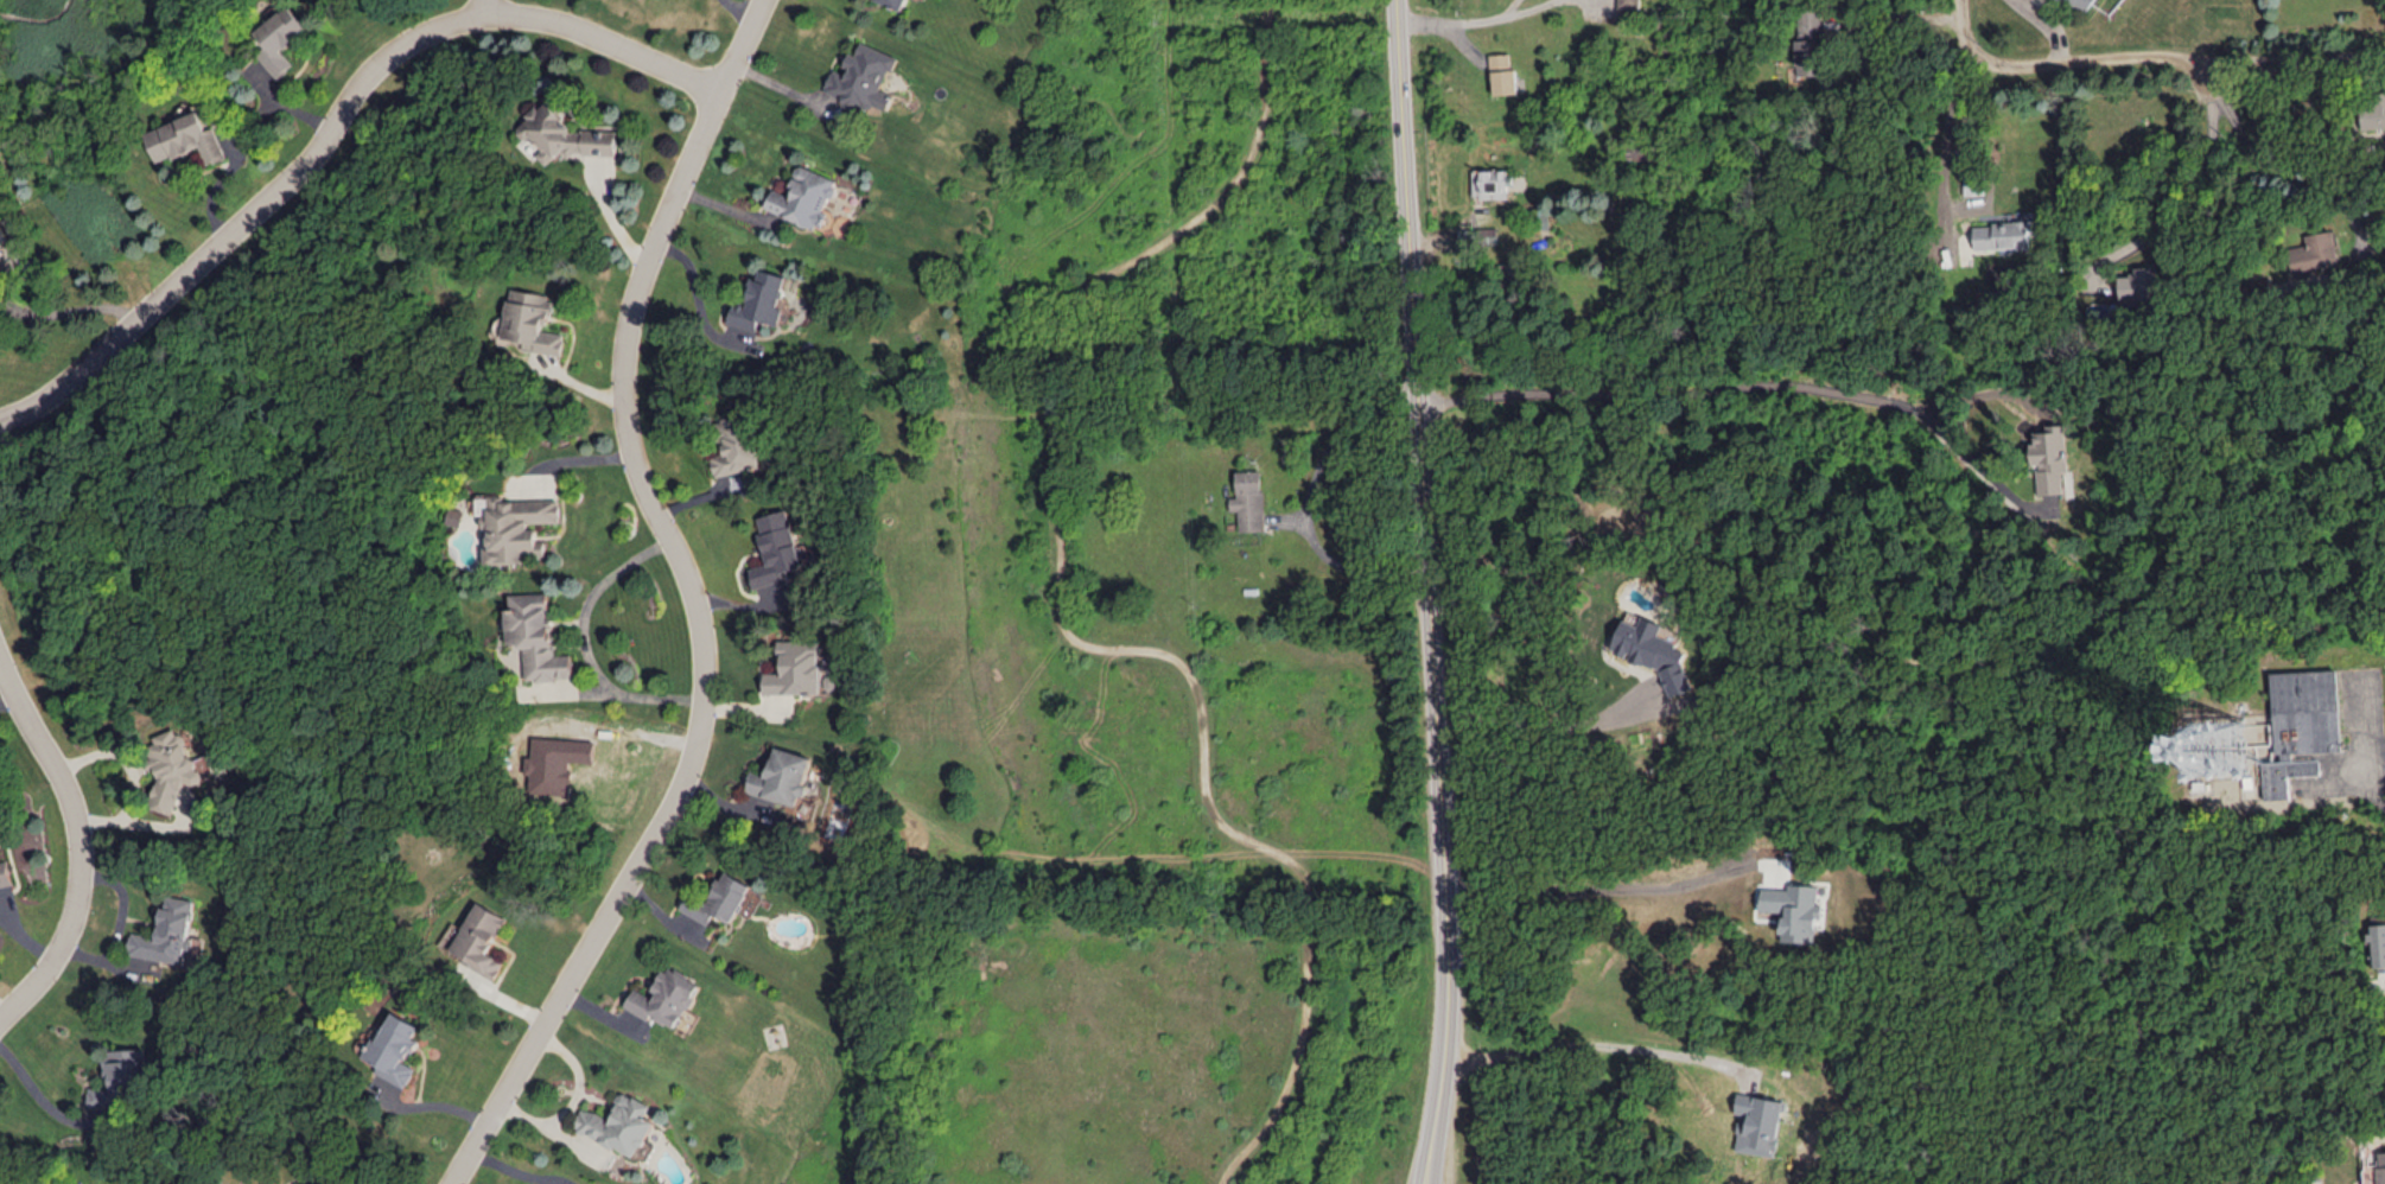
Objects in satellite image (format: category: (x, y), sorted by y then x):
building: (895, 2)
building: (1629, 4)
building: (2081, 4)
road: (505, 8)
road: (1899, 11)
road: (1475, 20)
road: (2044, 25)
building: (285, 38)
building: (1808, 42)
road: (2370, 52)
road: (2268, 56)
road: (2069, 59)
road: (2370, 66)
building: (1503, 74)
building: (861, 77)
building: (2373, 110)
road: (333, 127)
building: (568, 134)
building: (187, 138)
road: (1953, 147)
road: (2287, 178)
building: (1490, 182)
building: (1974, 182)
building: (804, 197)
road: (2168, 203)
building: (1489, 234)
building: (2002, 234)
building: (2317, 250)
building: (0, 266)
road: (693, 285)
building: (2139, 286)
building: (759, 300)
building: (534, 320)
road: (1745, 384)
building: (734, 446)
building: (2053, 458)
building: (1249, 499)
road: (1311, 501)
building: (460, 515)
building: (520, 526)
building: (775, 547)
road: (1430, 592)
road: (693, 600)
building: (539, 636)
road: (584, 641)
building: (1653, 651)
building: (795, 668)
building: (2308, 711)
road: (1538, 727)
road: (2342, 738)
building: (558, 762)
building: (172, 769)
road: (135, 774)
building: (2287, 775)
building: (781, 776)
road: (79, 845)
building: (8, 873)
road: (1598, 889)
building: (719, 898)
building: (1792, 909)
building: (484, 937)
building: (2377, 943)
building: (666, 997)
building: (400, 1048)
road: (1589, 1048)
building: (120, 1077)
road: (578, 1077)
road: (39, 1094)
road: (424, 1108)
building: (1757, 1122)
building: (618, 1123)
road: (552, 1128)
building: (2377, 1171)

